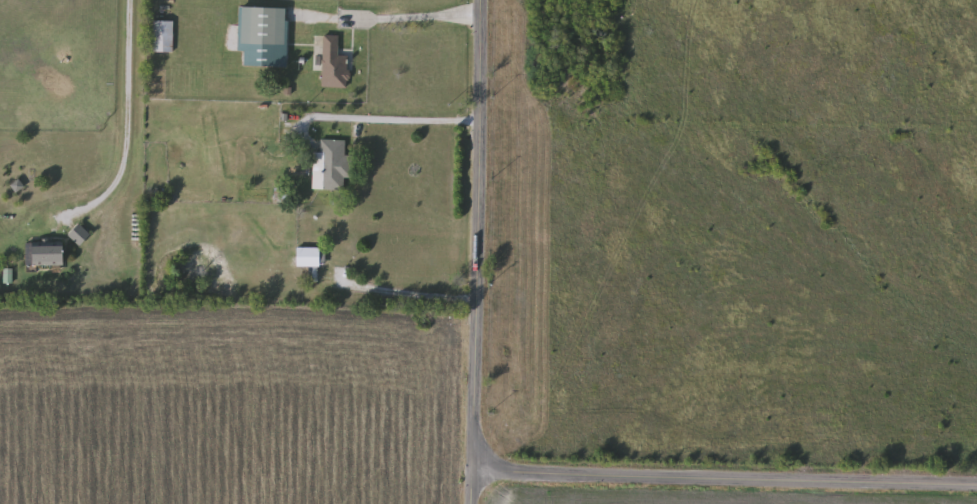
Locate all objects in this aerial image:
road: (416, 18)
building: (263, 27)
building: (161, 38)
building: (333, 65)
road: (386, 121)
road: (124, 128)
building: (330, 167)
building: (17, 187)
road: (477, 251)
building: (49, 255)
building: (306, 257)
road: (398, 296)
crop: (227, 410)
road: (727, 481)

